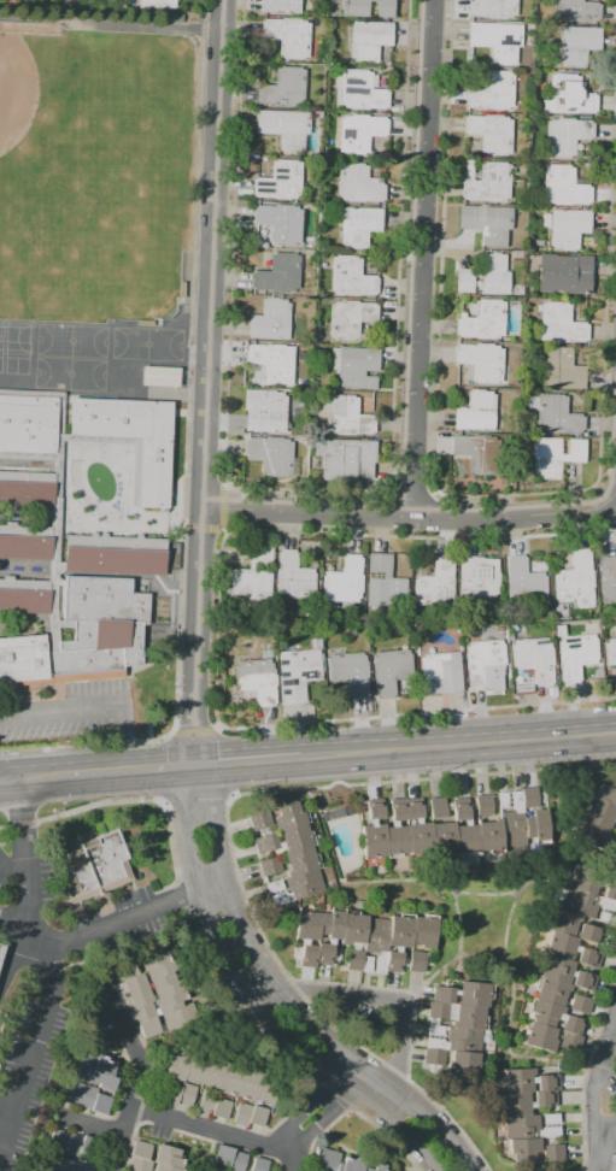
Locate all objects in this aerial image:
building: (159, 5)
building: (278, 6)
building: (366, 7)
building: (492, 8)
building: (575, 11)
building: (180, 19)
building: (287, 36)
building: (497, 40)
building: (368, 41)
building: (577, 46)
building: (282, 88)
building: (360, 92)
building: (492, 92)
building: (567, 96)
building: (283, 128)
building: (358, 133)
building: (491, 133)
building: (565, 136)
building: (329, 145)
park: (93, 173)
building: (278, 182)
building: (486, 182)
building: (358, 184)
building: (563, 187)
building: (280, 223)
building: (487, 223)
building: (358, 226)
building: (568, 228)
road: (421, 258)
building: (564, 273)
building: (277, 275)
building: (483, 276)
building: (351, 277)
building: (184, 292)
building: (348, 318)
building: (270, 320)
building: (482, 320)
building: (559, 324)
building: (148, 325)
building: (481, 361)
building: (272, 363)
building: (357, 367)
building: (562, 370)
building: (164, 379)
road: (200, 382)
building: (264, 411)
building: (475, 412)
building: (553, 414)
building: (347, 417)
building: (477, 453)
building: (270, 455)
building: (555, 455)
building: (345, 459)
road: (405, 516)
building: (78, 537)
building: (251, 576)
building: (293, 577)
building: (476, 578)
building: (574, 578)
building: (608, 578)
building: (523, 579)
building: (344, 581)
building: (383, 583)
building: (435, 585)
building: (610, 652)
building: (575, 655)
building: (533, 658)
building: (482, 661)
building: (389, 671)
building: (298, 672)
building: (348, 673)
building: (440, 673)
building: (256, 679)
road: (60, 712)
road: (382, 718)
road: (195, 731)
road: (123, 739)
road: (456, 745)
road: (87, 746)
road: (245, 761)
road: (133, 771)
road: (35, 778)
road: (196, 795)
building: (483, 805)
building: (473, 806)
building: (448, 807)
building: (438, 808)
building: (335, 813)
building: (598, 816)
building: (260, 820)
building: (615, 824)
building: (453, 828)
building: (264, 831)
road: (230, 838)
building: (614, 841)
building: (266, 842)
building: (268, 854)
building: (295, 857)
building: (269, 866)
road: (13, 867)
building: (93, 867)
road: (133, 918)
road: (14, 925)
building: (365, 940)
building: (0, 942)
road: (203, 945)
building: (1, 951)
building: (568, 964)
road: (49, 969)
building: (168, 990)
building: (139, 998)
road: (287, 998)
road: (386, 1000)
road: (253, 1001)
building: (458, 1028)
road: (196, 1032)
road: (587, 1069)
building: (95, 1070)
building: (221, 1076)
road: (139, 1079)
road: (594, 1088)
building: (178, 1094)
building: (87, 1098)
building: (215, 1105)
building: (527, 1112)
road: (318, 1114)
building: (250, 1116)
road: (94, 1125)
road: (207, 1130)
building: (552, 1141)
building: (72, 1143)
road: (608, 1143)
building: (553, 1152)
building: (140, 1157)
building: (230, 1158)
building: (168, 1159)
building: (327, 1159)
building: (64, 1164)
building: (259, 1164)
road: (599, 1169)
building: (209, 1170)
building: (213, 1170)

